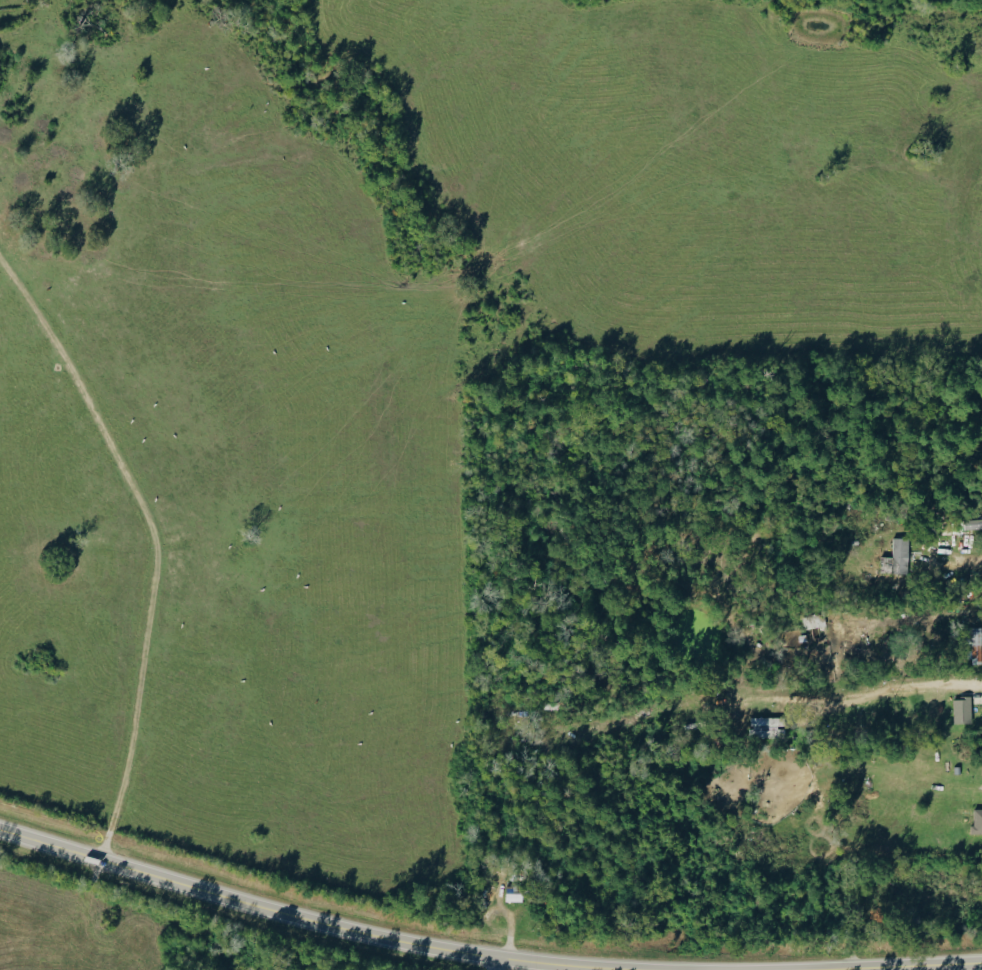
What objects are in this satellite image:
building: (973, 524)
road: (156, 541)
road: (930, 553)
building: (896, 558)
road: (974, 567)
building: (973, 645)
road: (862, 692)
building: (959, 708)
building: (766, 727)
building: (954, 768)
building: (977, 822)
building: (513, 897)
road: (325, 923)
road: (500, 964)
road: (907, 966)

